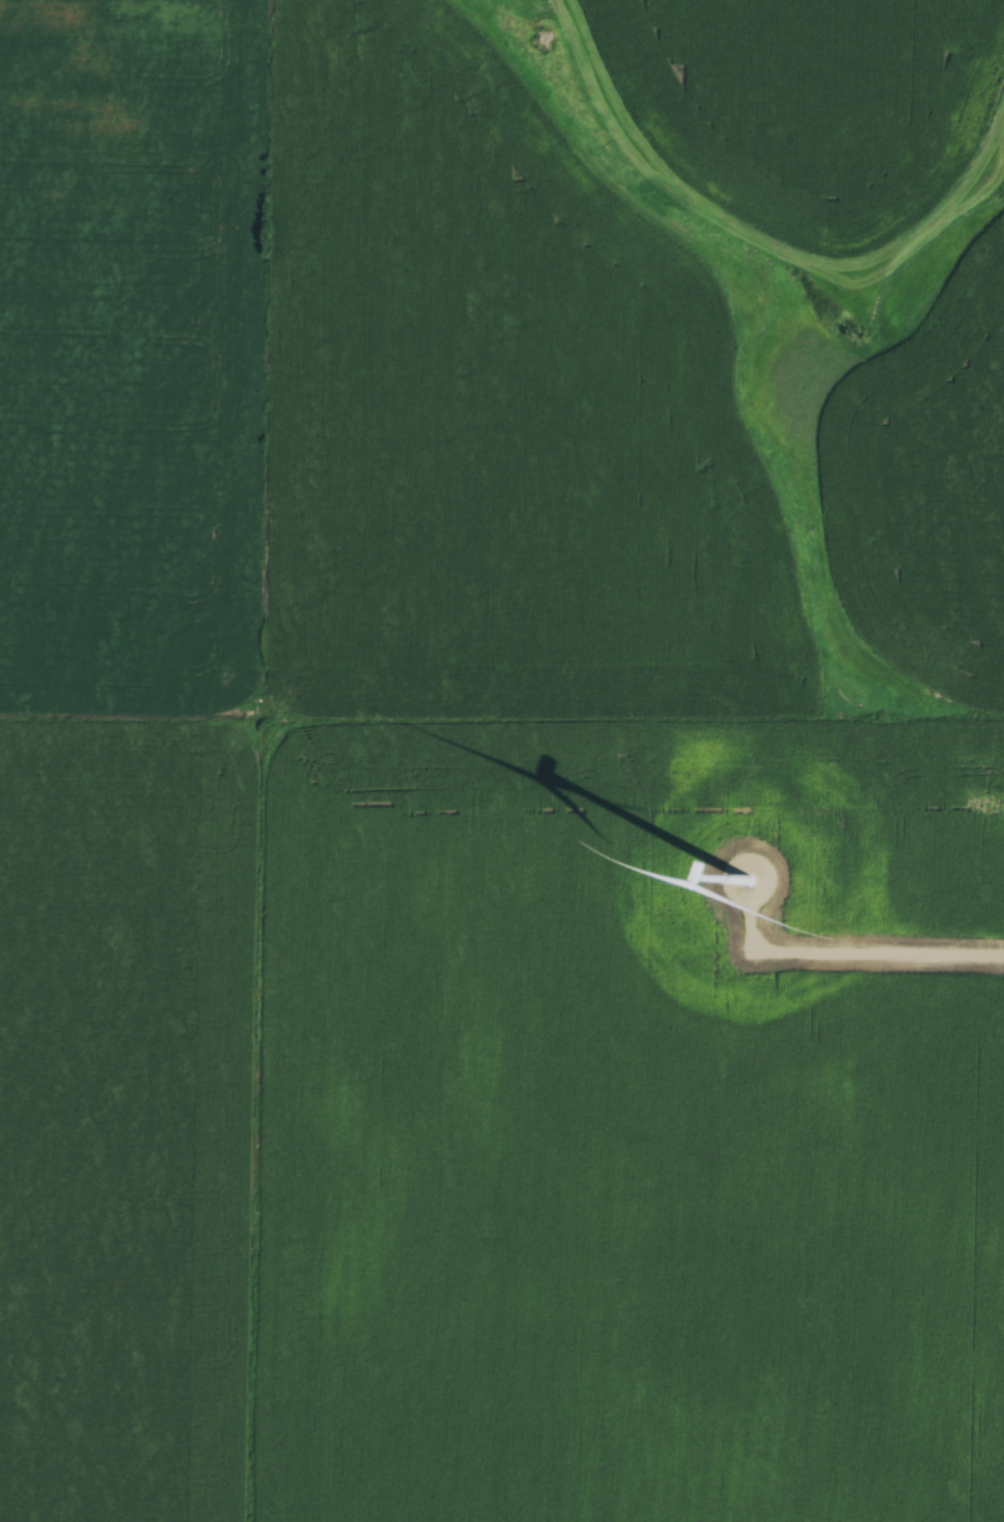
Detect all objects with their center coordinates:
wind turbine: (746, 879)

